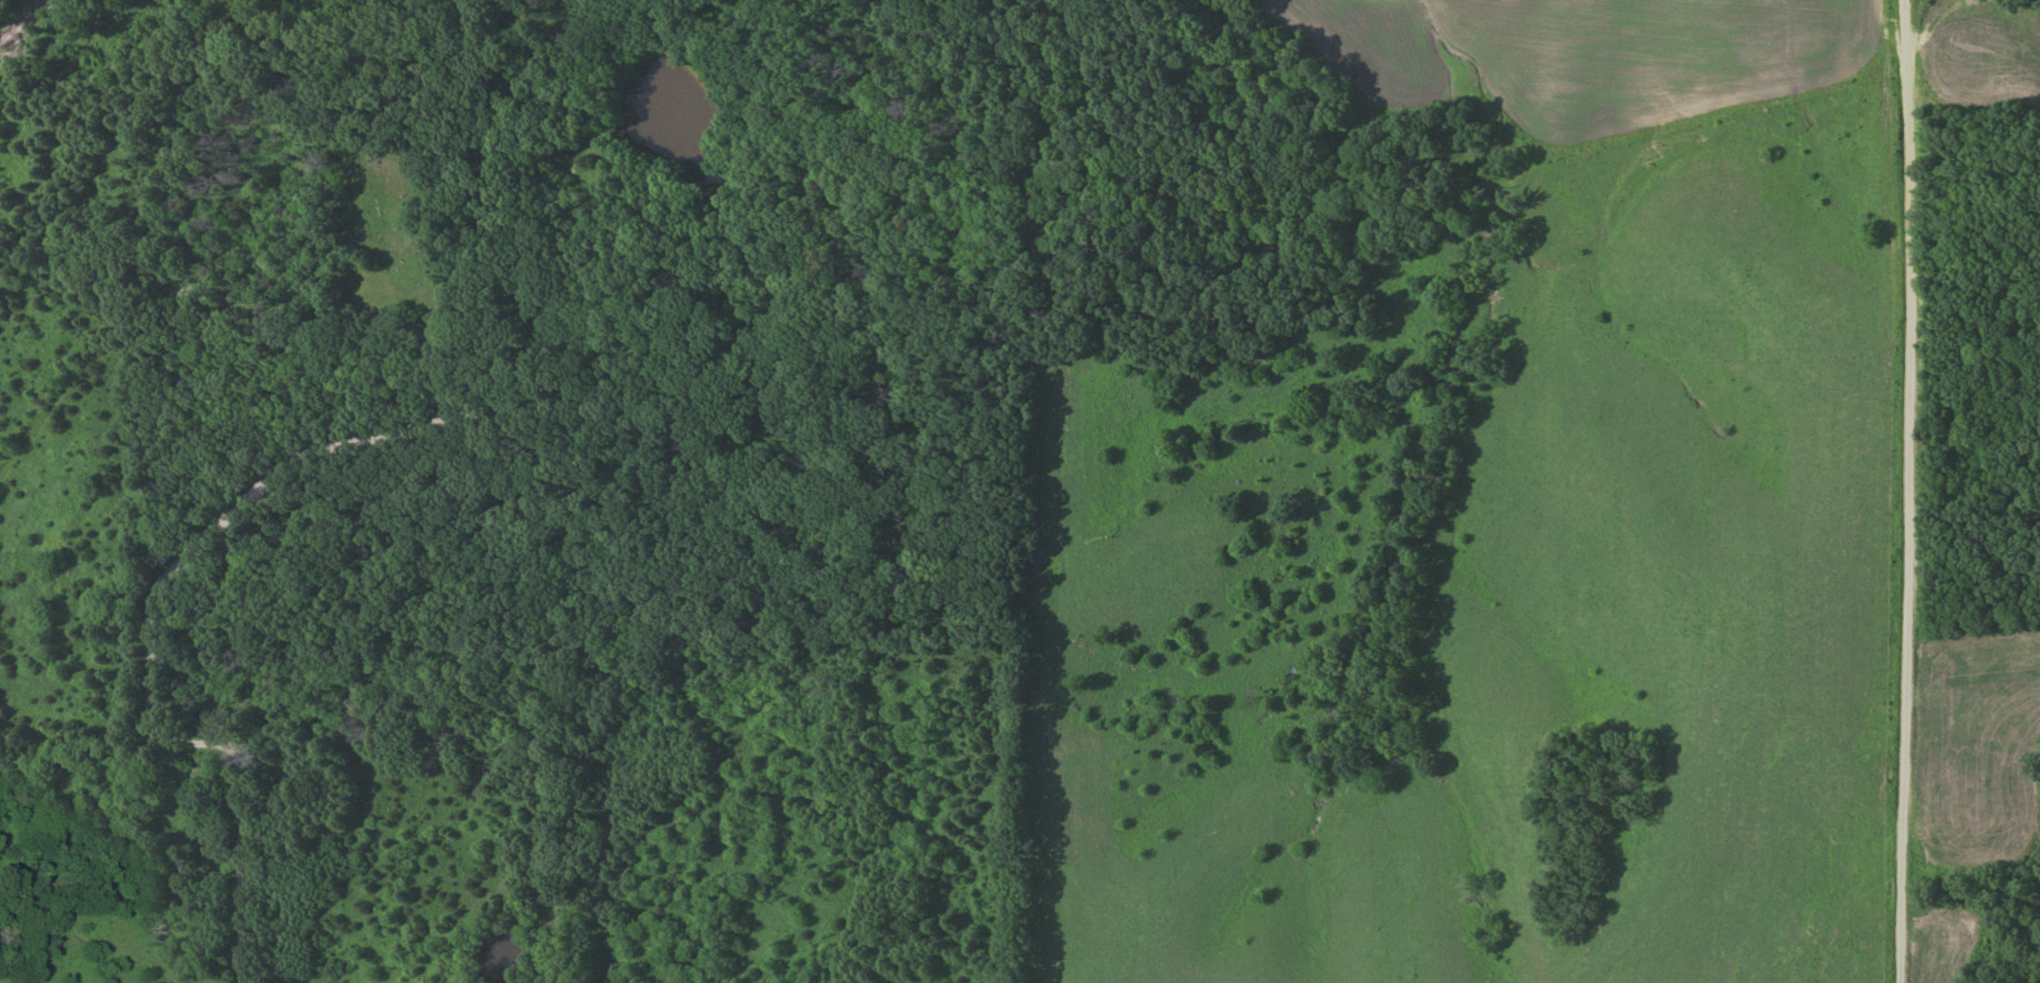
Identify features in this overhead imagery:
road: (1908, 491)
road: (254, 785)

